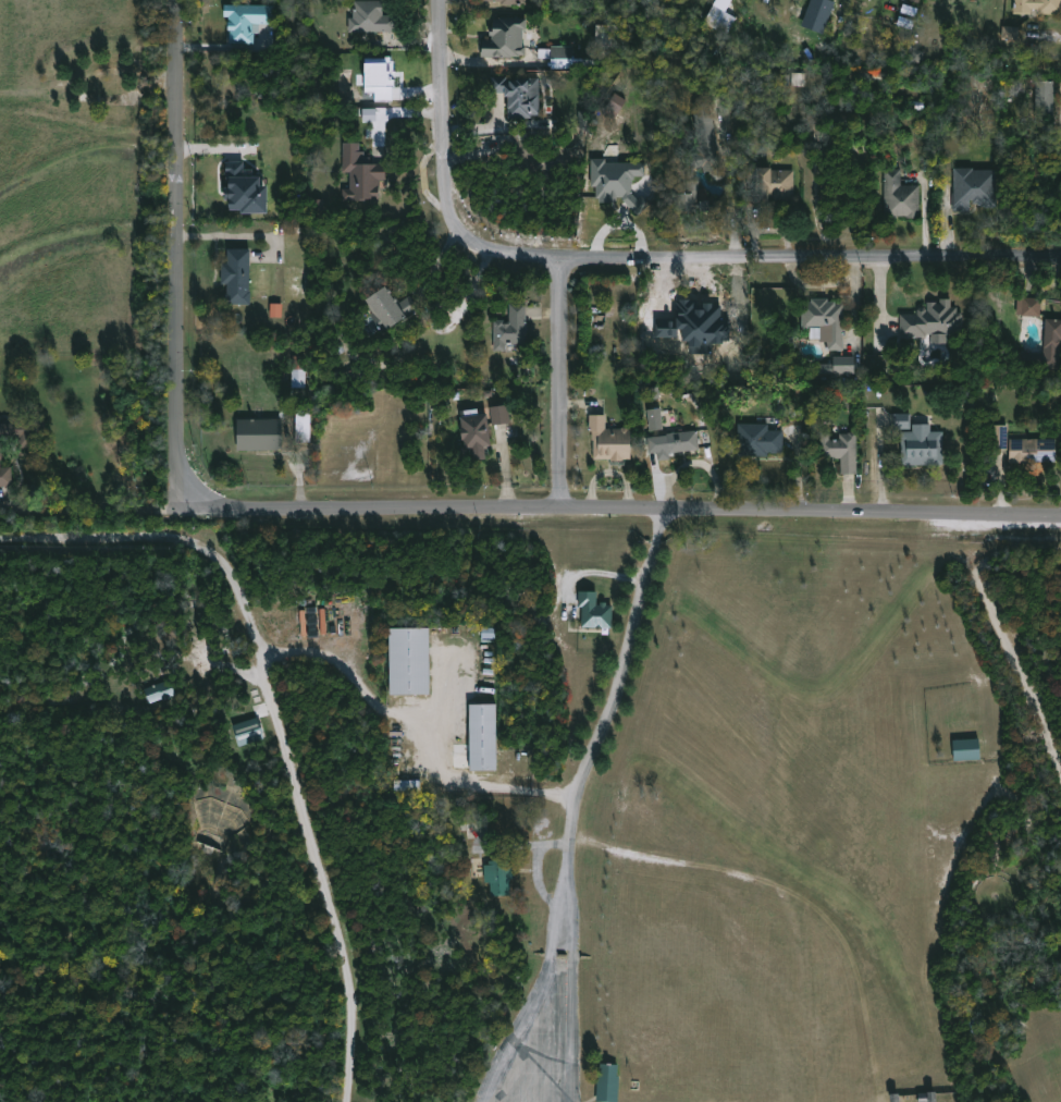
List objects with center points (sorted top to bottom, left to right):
building: (506, 2)
building: (1037, 7)
building: (817, 14)
building: (368, 16)
building: (718, 20)
building: (246, 22)
building: (1010, 34)
building: (502, 37)
building: (563, 57)
building: (380, 78)
building: (516, 93)
building: (1043, 97)
building: (698, 160)
road: (443, 172)
building: (358, 174)
building: (618, 183)
building: (772, 184)
building: (971, 187)
building: (238, 189)
road: (732, 192)
building: (898, 196)
road: (182, 244)
road: (811, 259)
building: (240, 275)
building: (1027, 306)
building: (384, 308)
building: (823, 320)
building: (932, 320)
building: (508, 328)
building: (1046, 347)
building: (836, 366)
building: (296, 372)
road: (562, 390)
building: (499, 415)
building: (655, 419)
building: (902, 420)
building: (300, 425)
building: (471, 433)
building: (259, 434)
building: (996, 437)
building: (607, 440)
building: (756, 440)
building: (677, 441)
building: (920, 446)
building: (840, 450)
building: (1029, 451)
building: (2, 453)
road: (624, 511)
road: (595, 573)
building: (594, 611)
building: (404, 660)
road: (615, 688)
building: (159, 691)
road: (1037, 697)
road: (276, 718)
road: (423, 721)
building: (248, 732)
building: (479, 736)
building: (966, 749)
building: (407, 785)
building: (474, 830)
road: (536, 843)
road: (563, 872)
road: (536, 876)
building: (497, 877)
parking lot: (540, 1050)
building: (607, 1082)
building: (925, 1097)

